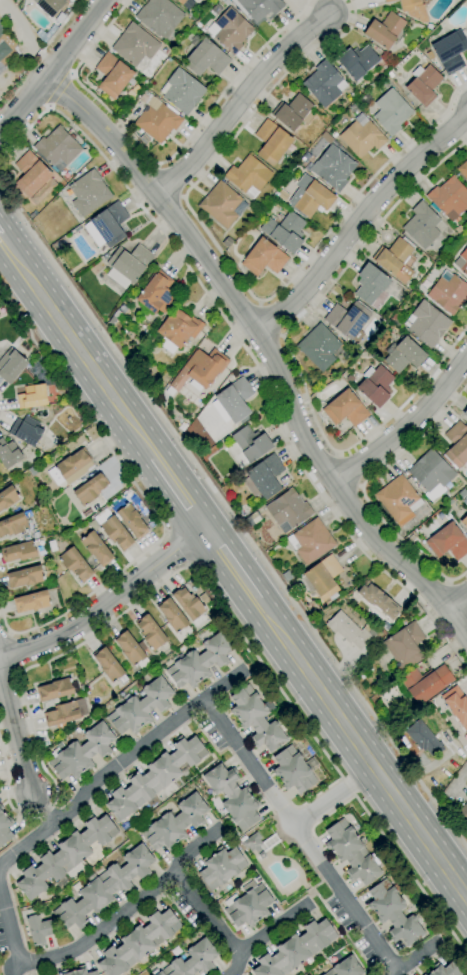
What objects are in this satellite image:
building: (387, 1)
building: (421, 1)
building: (185, 3)
building: (409, 4)
building: (50, 6)
building: (260, 7)
building: (159, 17)
building: (230, 30)
building: (384, 30)
building: (4, 45)
building: (134, 45)
building: (450, 51)
road: (41, 55)
building: (205, 57)
building: (357, 62)
road: (54, 66)
building: (1, 67)
building: (112, 75)
building: (324, 83)
building: (424, 84)
road: (59, 91)
building: (182, 91)
road: (241, 101)
building: (293, 112)
building: (391, 112)
building: (157, 120)
building: (362, 138)
building: (272, 142)
building: (57, 147)
road: (160, 162)
building: (334, 167)
building: (463, 170)
building: (31, 174)
building: (248, 176)
building: (42, 191)
building: (88, 193)
building: (310, 196)
building: (449, 198)
building: (222, 204)
road: (362, 221)
building: (421, 225)
building: (107, 226)
building: (284, 230)
building: (263, 258)
building: (395, 259)
building: (464, 259)
building: (128, 265)
road: (229, 265)
building: (370, 283)
building: (448, 292)
building: (157, 294)
building: (348, 320)
building: (426, 323)
building: (177, 330)
building: (318, 347)
road: (77, 348)
road: (269, 350)
road: (248, 354)
building: (403, 354)
road: (289, 355)
building: (11, 365)
building: (200, 370)
building: (376, 386)
building: (32, 397)
building: (235, 400)
road: (0, 409)
building: (345, 409)
building: (465, 413)
building: (26, 430)
road: (409, 430)
building: (456, 445)
building: (247, 446)
building: (8, 454)
building: (73, 468)
building: (431, 474)
building: (265, 476)
road: (362, 488)
building: (90, 489)
road: (181, 494)
building: (8, 498)
road: (144, 498)
building: (398, 500)
building: (288, 510)
road: (233, 516)
building: (131, 520)
building: (464, 522)
building: (13, 525)
building: (115, 532)
building: (311, 541)
building: (447, 542)
building: (97, 548)
road: (178, 550)
building: (19, 552)
building: (75, 564)
road: (231, 565)
building: (24, 577)
building: (321, 578)
road: (455, 595)
building: (31, 601)
building: (378, 601)
road: (110, 605)
building: (189, 605)
building: (172, 615)
road: (110, 622)
building: (348, 630)
building: (151, 633)
building: (405, 646)
building: (131, 650)
building: (200, 661)
building: (108, 665)
building: (425, 683)
building: (55, 690)
building: (456, 705)
building: (140, 707)
building: (66, 713)
building: (256, 719)
road: (16, 732)
building: (423, 738)
road: (361, 749)
building: (80, 752)
road: (115, 764)
building: (292, 770)
building: (154, 777)
road: (460, 780)
road: (348, 786)
building: (232, 797)
road: (332, 797)
building: (1, 808)
building: (463, 811)
road: (42, 812)
building: (175, 823)
building: (5, 829)
road: (298, 835)
building: (254, 845)
building: (351, 853)
building: (65, 856)
building: (221, 868)
road: (411, 874)
building: (104, 888)
building: (249, 907)
road: (127, 912)
road: (213, 913)
building: (393, 913)
road: (10, 926)
building: (38, 930)
road: (266, 934)
building: (138, 943)
building: (295, 949)
road: (413, 958)
building: (192, 960)
building: (345, 968)
road: (14, 969)
building: (445, 970)
building: (80, 972)
building: (424, 974)

